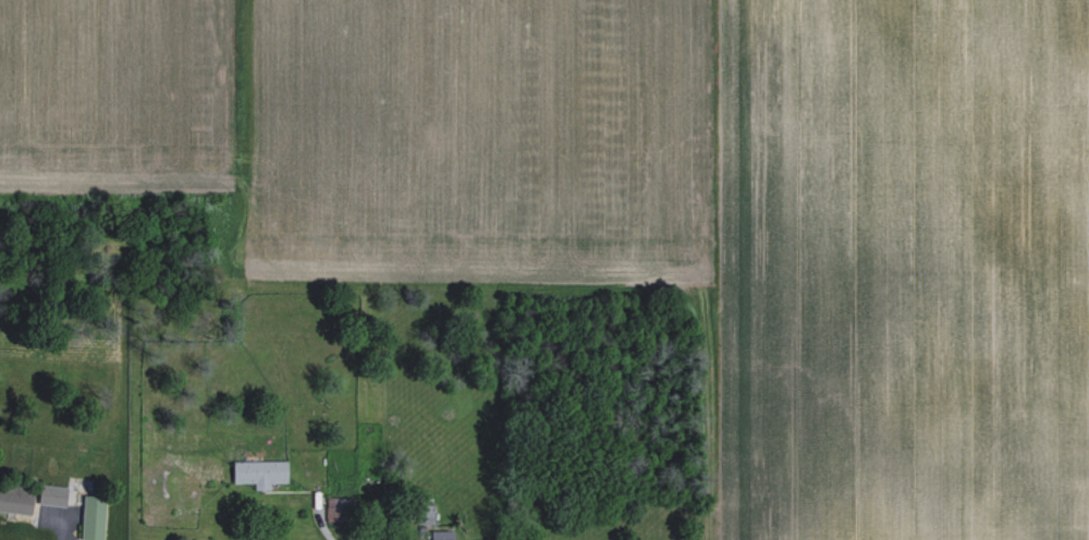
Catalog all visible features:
building: (258, 471)
road: (61, 516)
road: (318, 516)
building: (90, 517)
building: (440, 535)

